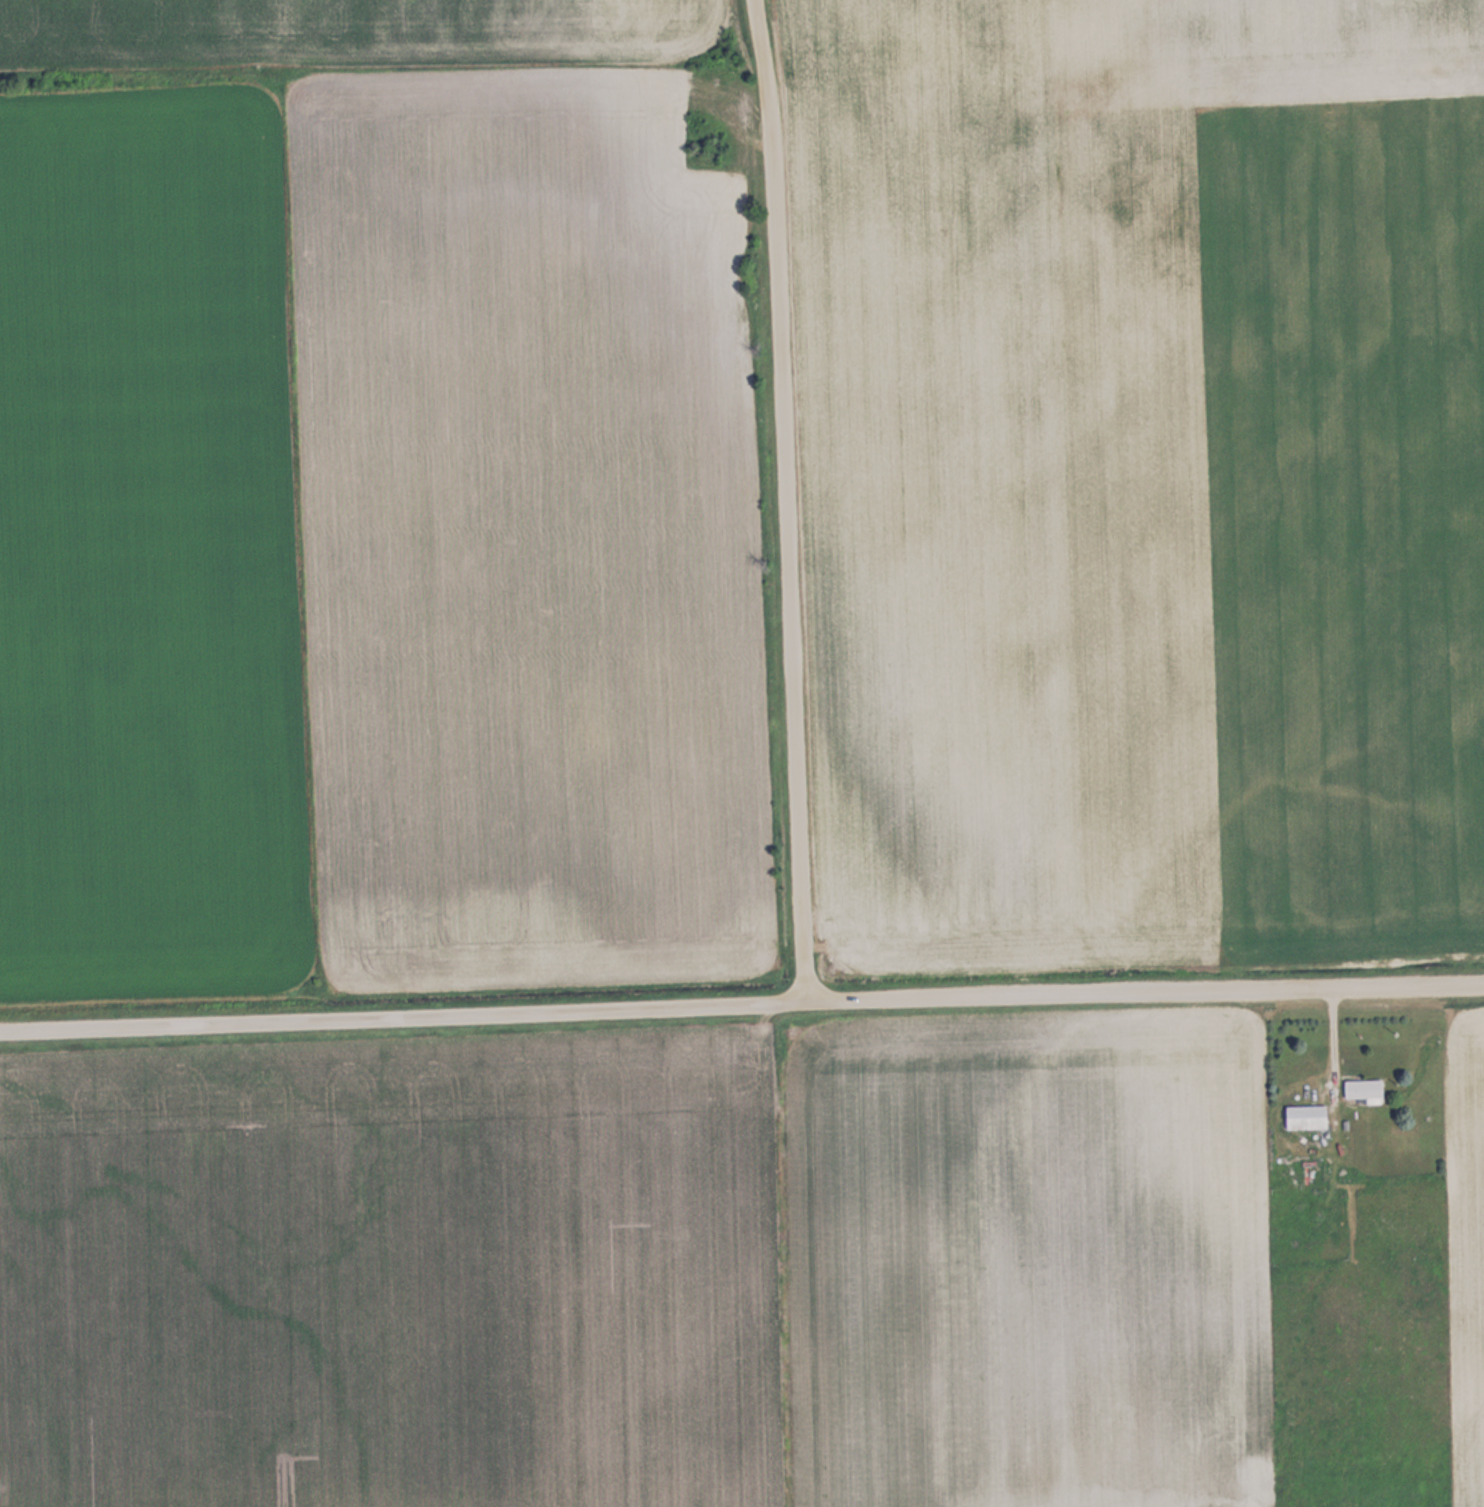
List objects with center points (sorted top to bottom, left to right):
road: (782, 498)
road: (741, 1000)
building: (1363, 1088)
building: (1305, 1117)
building: (1315, 1173)

